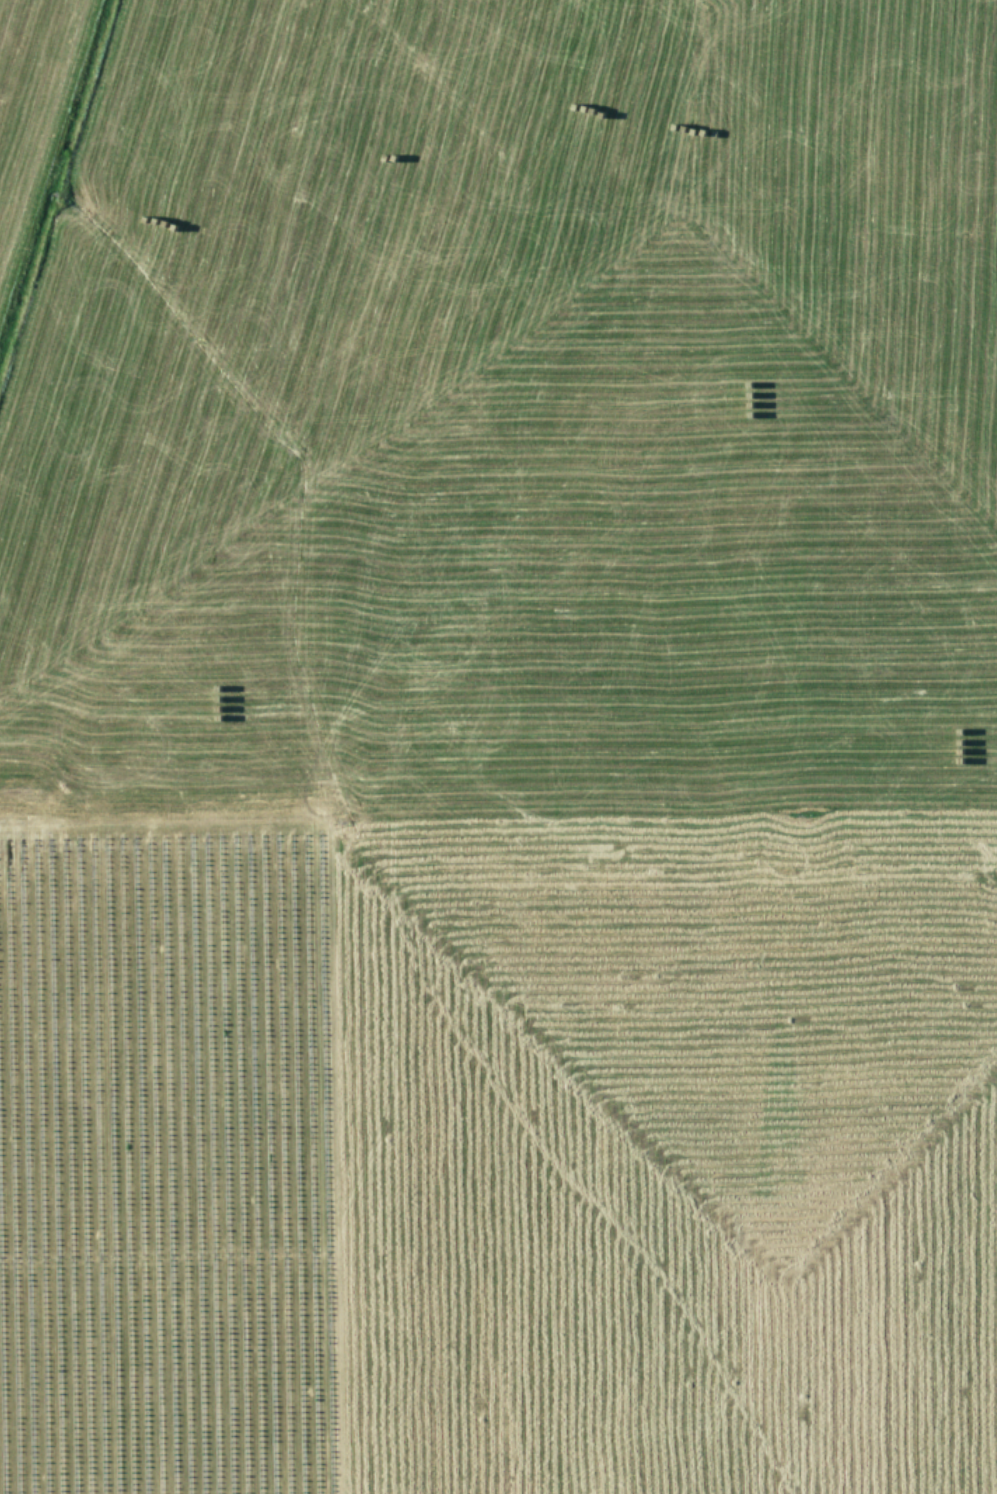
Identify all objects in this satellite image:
crop: (498, 747)

